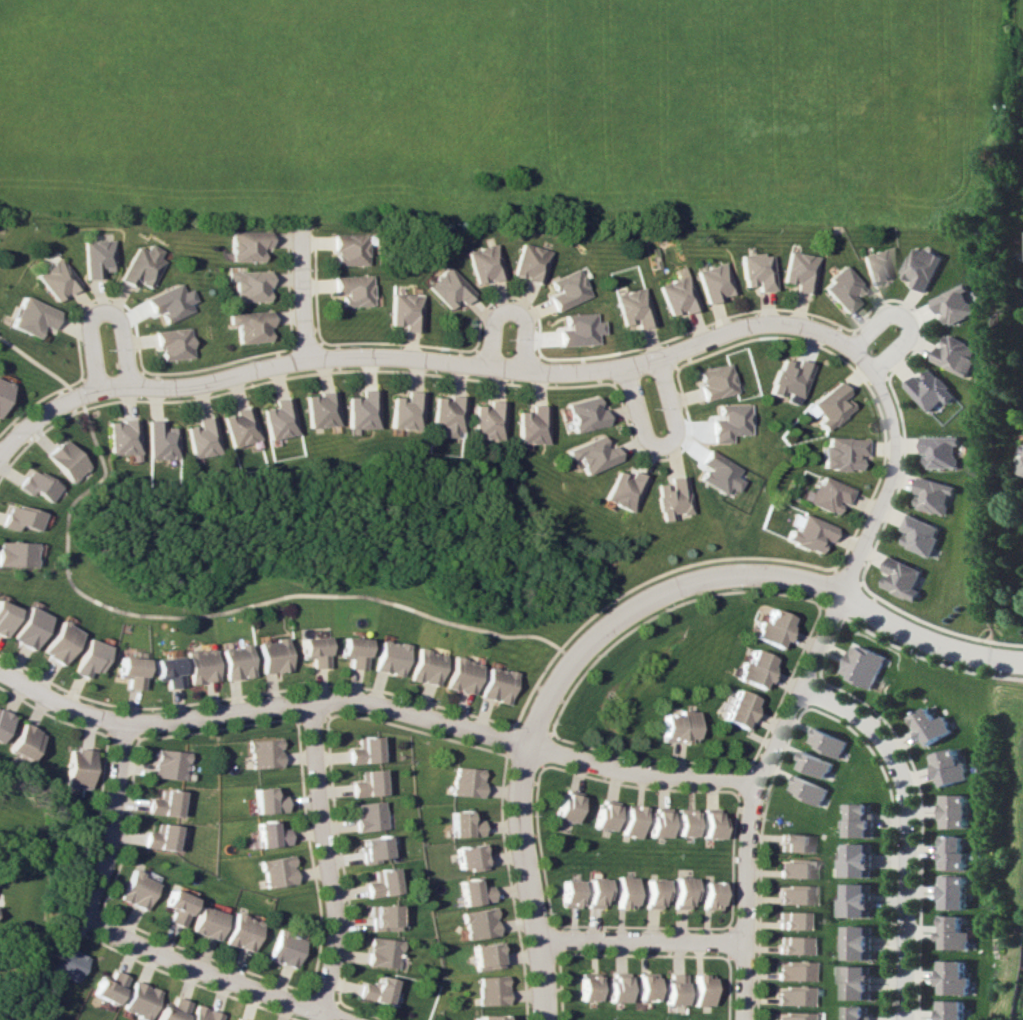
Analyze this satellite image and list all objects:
building: (247, 245)
building: (351, 249)
building: (98, 258)
building: (486, 263)
building: (533, 263)
building: (143, 266)
building: (875, 266)
building: (925, 267)
building: (755, 271)
building: (798, 272)
building: (56, 279)
building: (715, 281)
building: (248, 285)
building: (450, 288)
building: (354, 289)
building: (570, 289)
building: (839, 289)
building: (678, 294)
building: (170, 302)
road: (296, 303)
building: (959, 305)
building: (635, 307)
building: (406, 311)
building: (31, 317)
building: (250, 326)
building: (582, 329)
building: (173, 343)
road: (881, 347)
road: (510, 349)
building: (961, 355)
road: (107, 359)
road: (477, 366)
building: (787, 379)
building: (714, 382)
building: (1, 388)
building: (935, 390)
road: (652, 396)
building: (826, 406)
building: (321, 409)
building: (362, 410)
building: (406, 411)
building: (585, 414)
road: (34, 415)
building: (447, 415)
building: (279, 419)
building: (487, 420)
building: (531, 425)
building: (239, 426)
building: (201, 437)
building: (120, 438)
building: (158, 440)
building: (945, 451)
building: (839, 453)
building: (591, 454)
building: (62, 460)
building: (33, 485)
building: (623, 489)
building: (824, 494)
building: (937, 495)
building: (672, 497)
building: (18, 517)
building: (806, 532)
building: (923, 534)
building: (16, 553)
building: (904, 578)
road: (850, 599)
road: (171, 616)
building: (4, 617)
building: (26, 628)
building: (771, 629)
building: (57, 642)
building: (311, 651)
building: (351, 652)
building: (271, 655)
building: (87, 657)
building: (388, 657)
building: (234, 661)
building: (864, 665)
building: (197, 666)
building: (423, 667)
building: (753, 669)
building: (165, 671)
building: (128, 672)
building: (459, 675)
building: (494, 684)
road: (802, 684)
road: (376, 704)
building: (737, 709)
building: (3, 721)
building: (932, 726)
building: (675, 727)
building: (23, 742)
building: (829, 742)
building: (363, 750)
building: (263, 753)
building: (167, 764)
building: (816, 764)
building: (950, 767)
building: (77, 768)
road: (518, 773)
building: (464, 782)
building: (366, 783)
building: (808, 789)
building: (266, 800)
building: (163, 803)
building: (564, 807)
building: (956, 811)
building: (602, 815)
building: (367, 816)
road: (112, 820)
building: (862, 820)
building: (629, 821)
building: (656, 822)
building: (683, 822)
building: (709, 823)
building: (462, 824)
road: (909, 825)
building: (270, 834)
building: (160, 837)
building: (793, 842)
building: (371, 848)
building: (954, 853)
road: (322, 857)
building: (469, 857)
building: (859, 860)
building: (794, 868)
building: (276, 871)
building: (380, 883)
building: (136, 890)
building: (622, 891)
building: (473, 892)
building: (652, 892)
building: (954, 892)
building: (567, 893)
building: (593, 893)
building: (679, 893)
building: (793, 894)
building: (708, 895)
building: (859, 900)
building: (176, 906)
building: (382, 917)
building: (789, 920)
building: (206, 923)
building: (478, 923)
building: (241, 932)
building: (954, 933)
road: (635, 940)
building: (861, 942)
building: (790, 945)
building: (283, 950)
building: (381, 952)
building: (485, 956)
building: (66, 963)
building: (792, 971)
road: (211, 972)
building: (955, 978)
building: (858, 982)
building: (587, 986)
building: (645, 986)
building: (107, 987)
building: (616, 987)
building: (673, 989)
building: (375, 990)
building: (491, 990)
building: (700, 990)
building: (791, 995)
building: (138, 1000)
building: (171, 1010)
building: (952, 1010)
building: (858, 1012)
building: (202, 1014)
building: (790, 1016)
building: (490, 1017)
building: (235, 1019)

